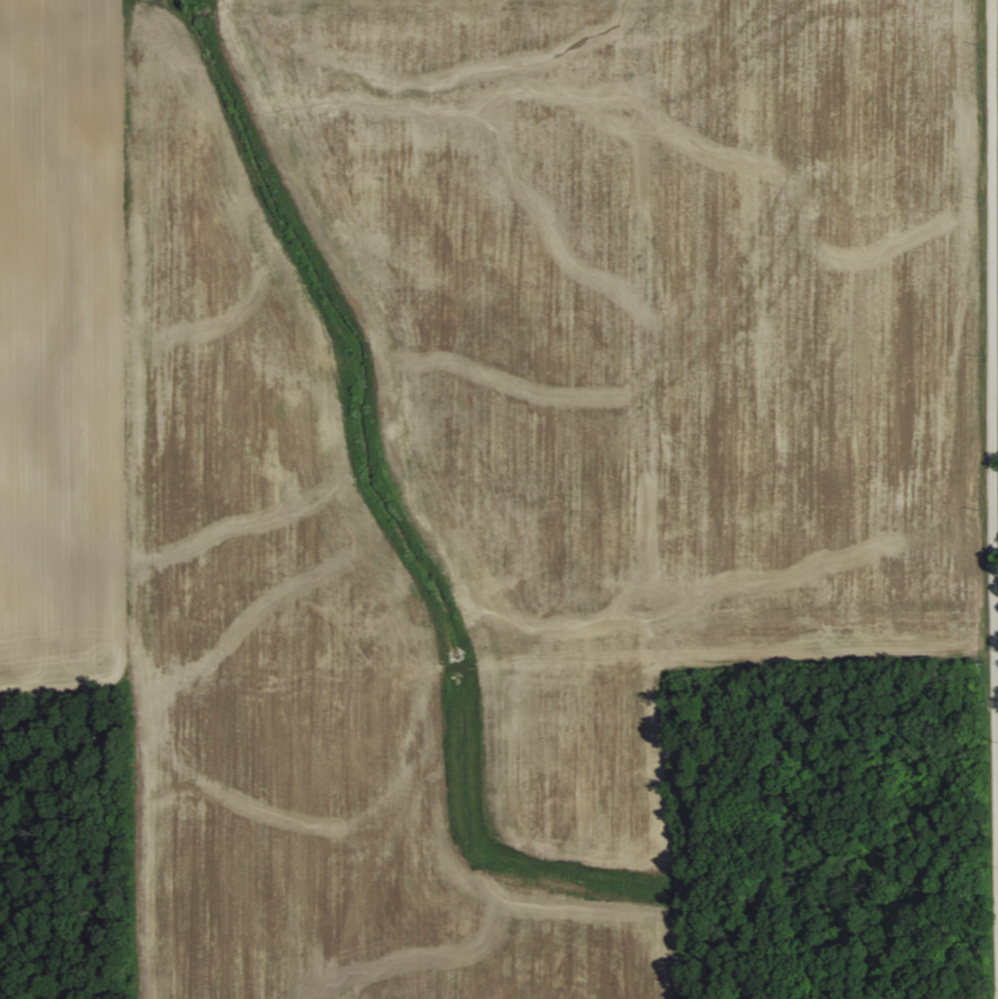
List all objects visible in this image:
road: (997, 8)

